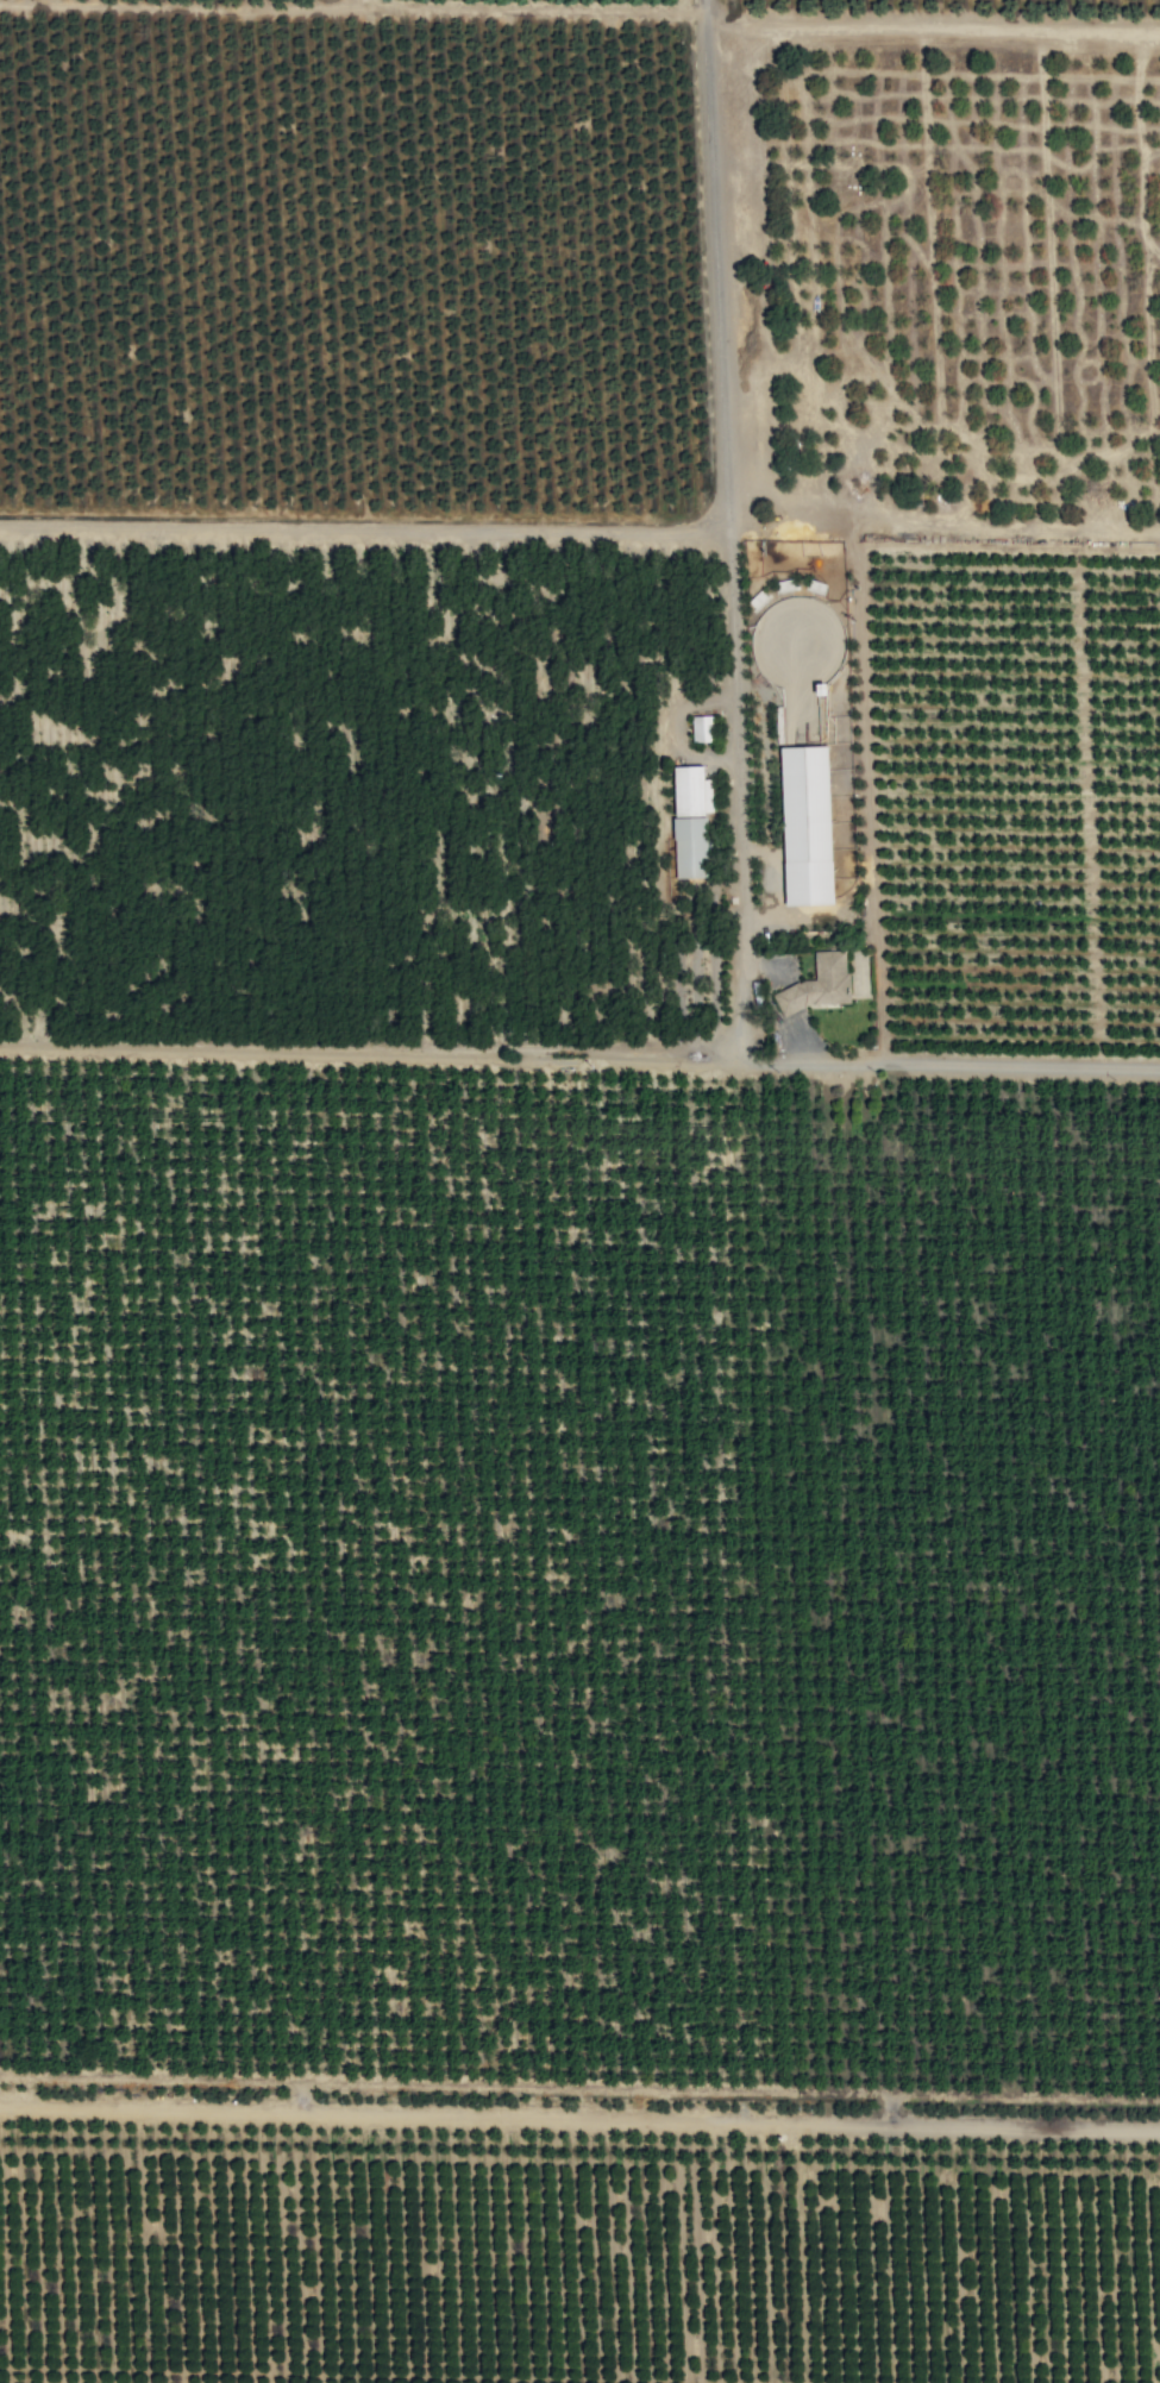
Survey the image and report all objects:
road: (733, 528)
building: (700, 729)
building: (685, 822)
building: (801, 826)
building: (815, 985)
road: (579, 1054)

